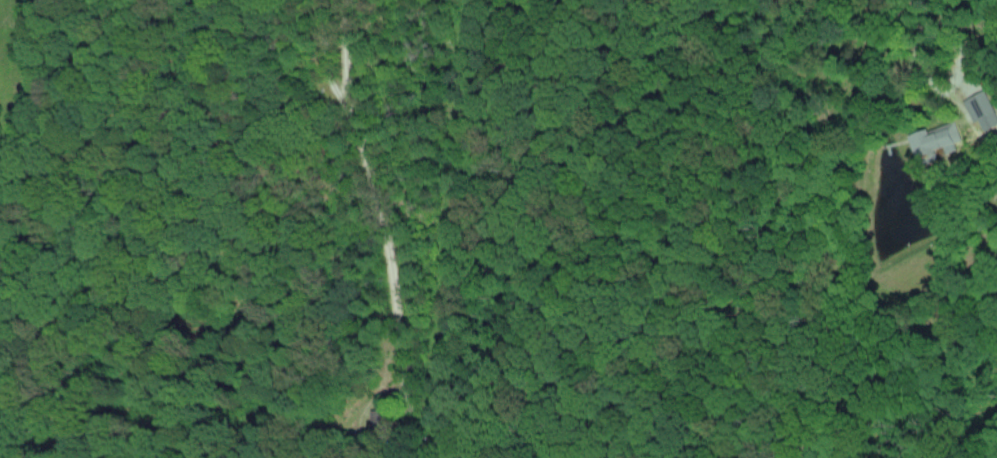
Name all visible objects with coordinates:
road: (904, 19)
building: (980, 110)
building: (928, 140)
road: (383, 227)

